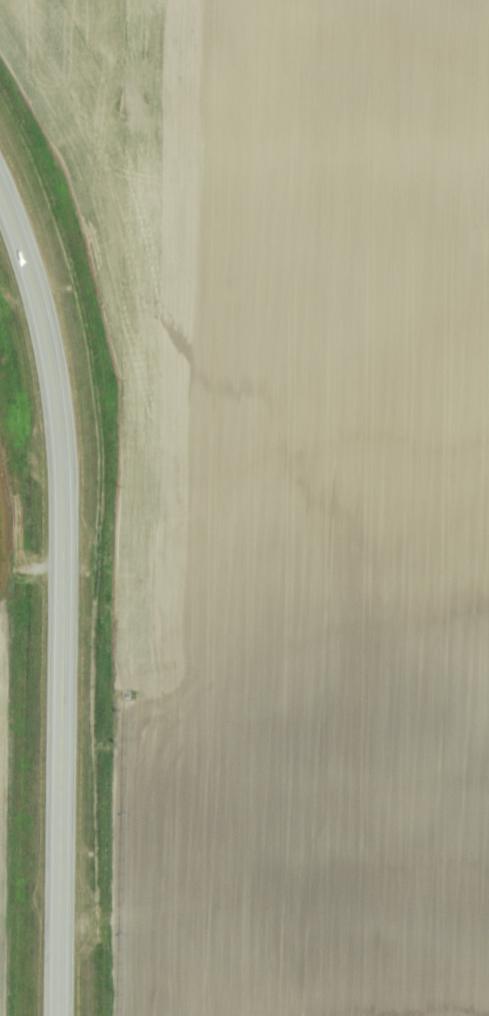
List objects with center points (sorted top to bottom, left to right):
road: (41, 337)
road: (55, 751)

